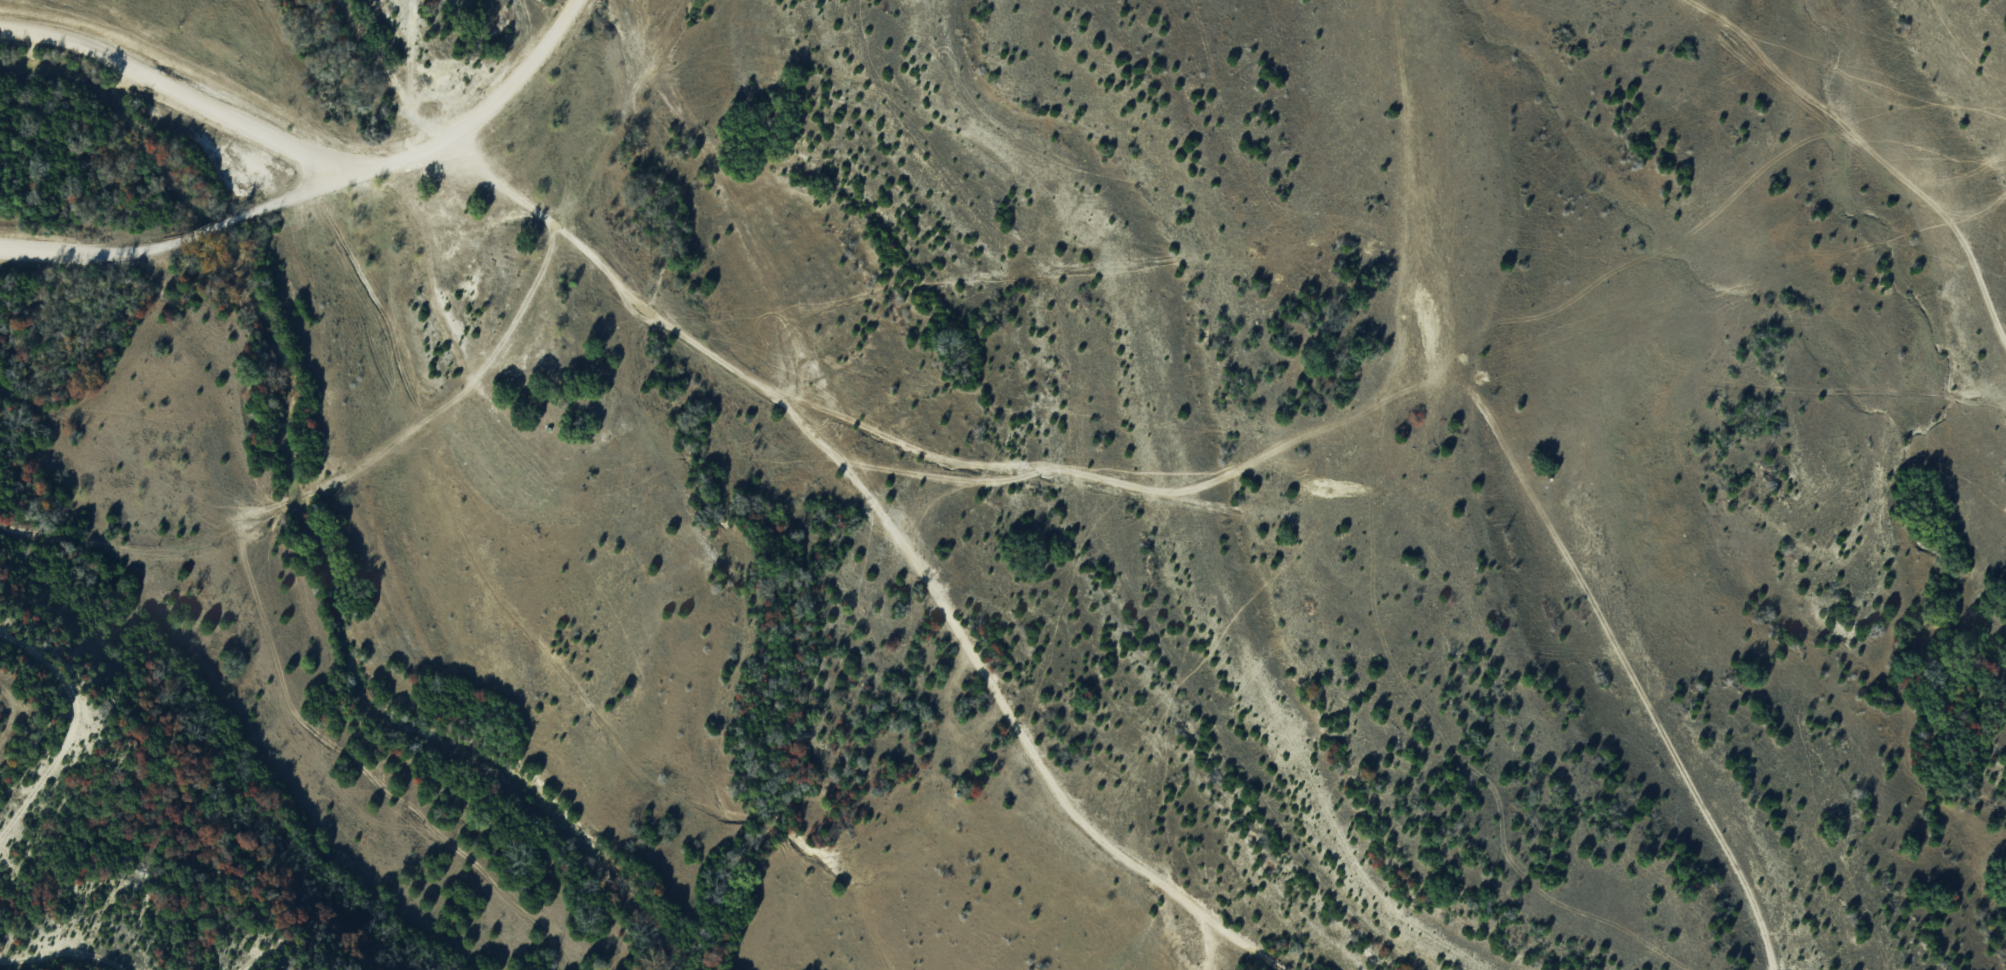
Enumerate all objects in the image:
road: (179, 94)
road: (484, 113)
road: (182, 240)

